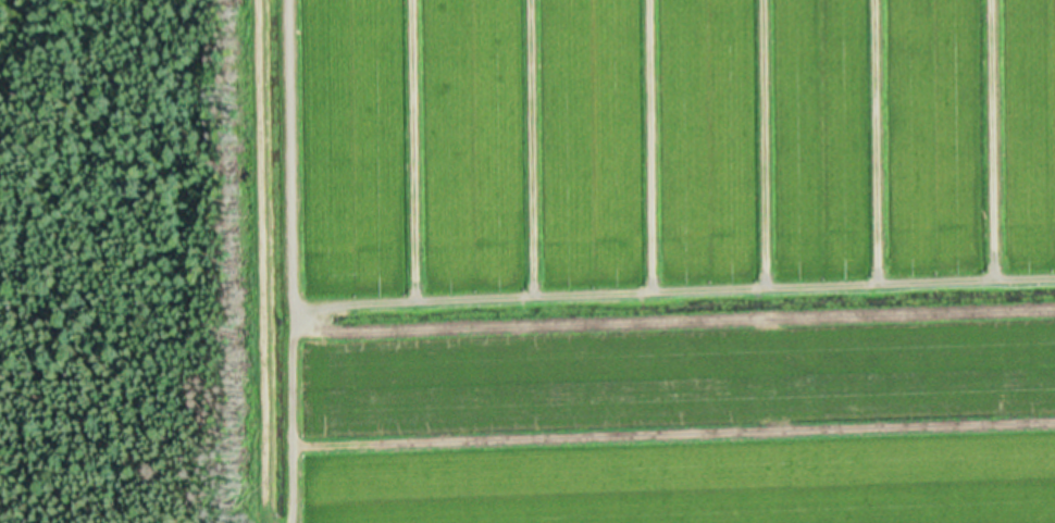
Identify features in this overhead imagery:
crop: (657, 261)

